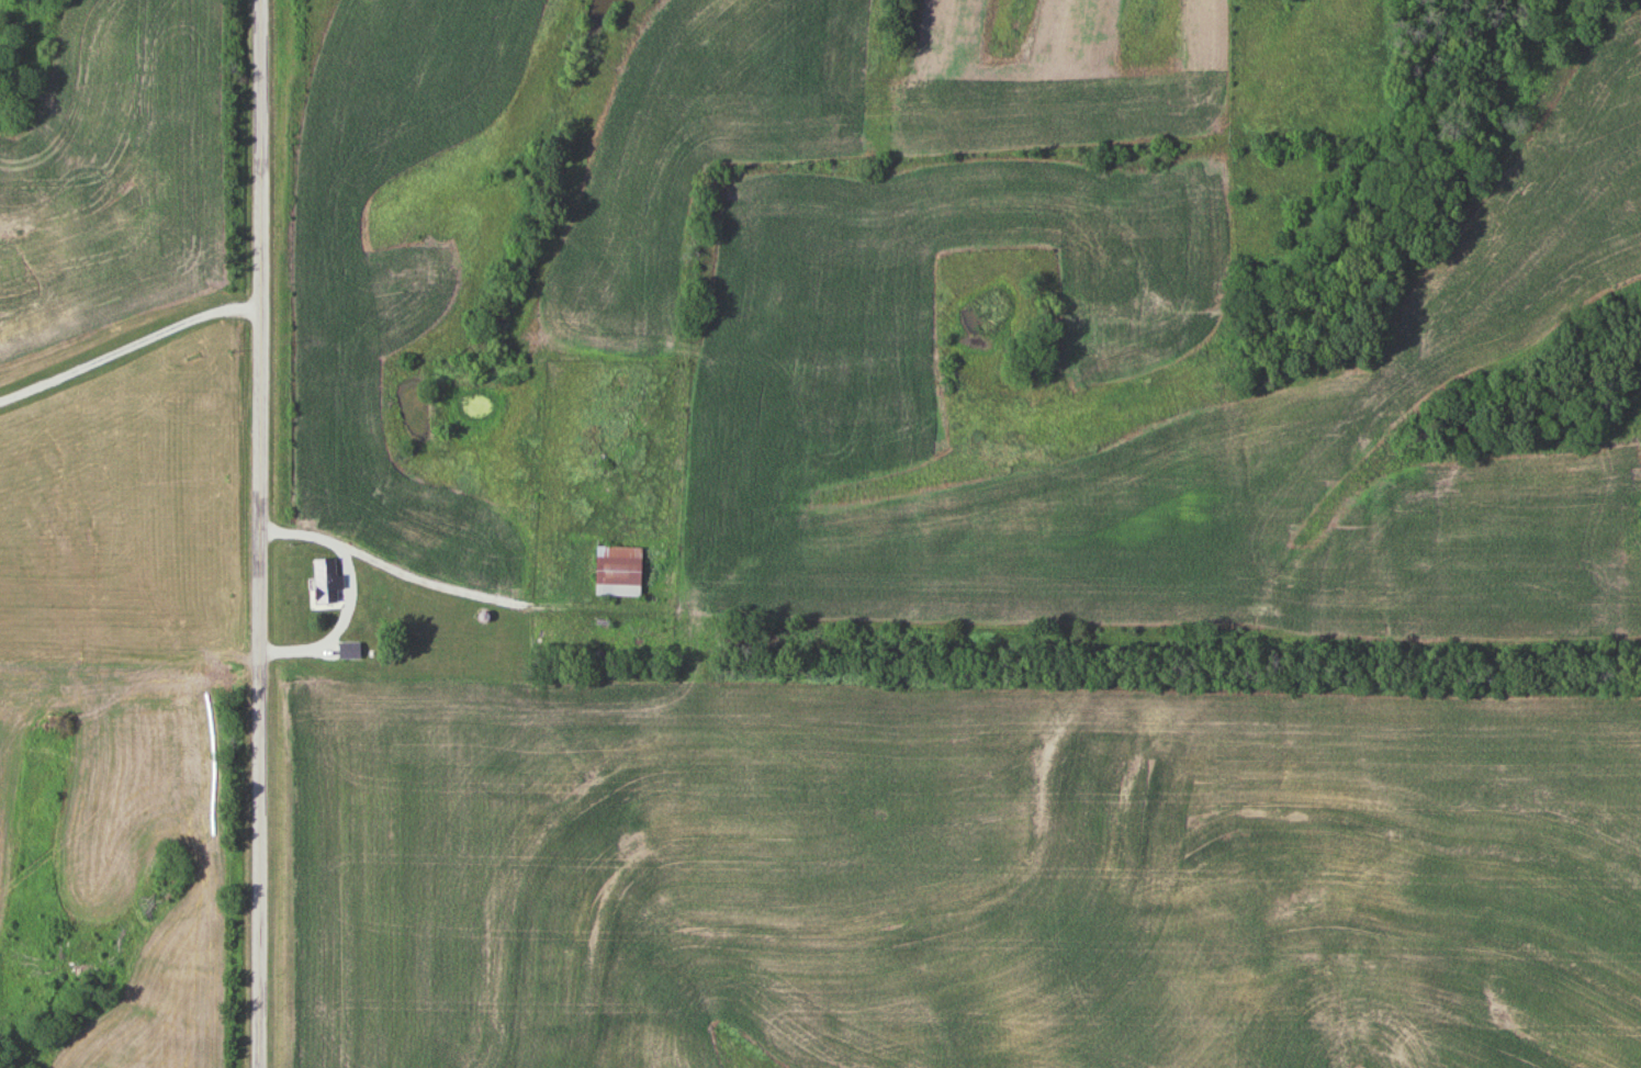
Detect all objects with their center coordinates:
road: (132, 347)
road: (266, 533)
building: (621, 572)
building: (329, 582)
building: (352, 651)

